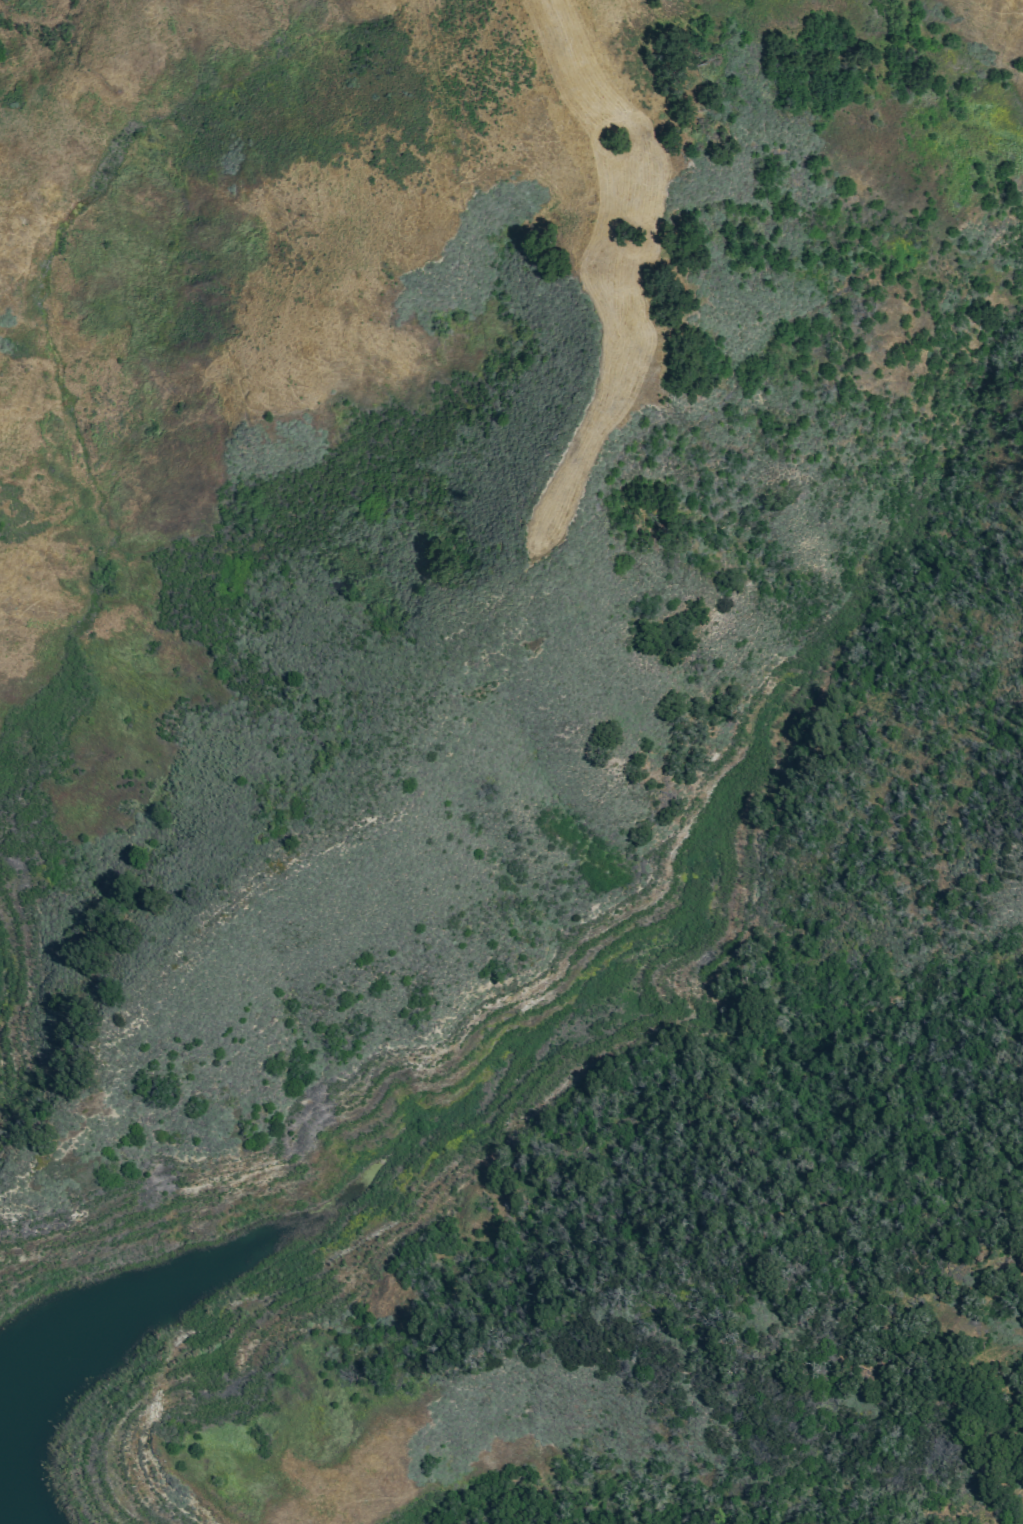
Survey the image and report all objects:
road: (575, 54)

